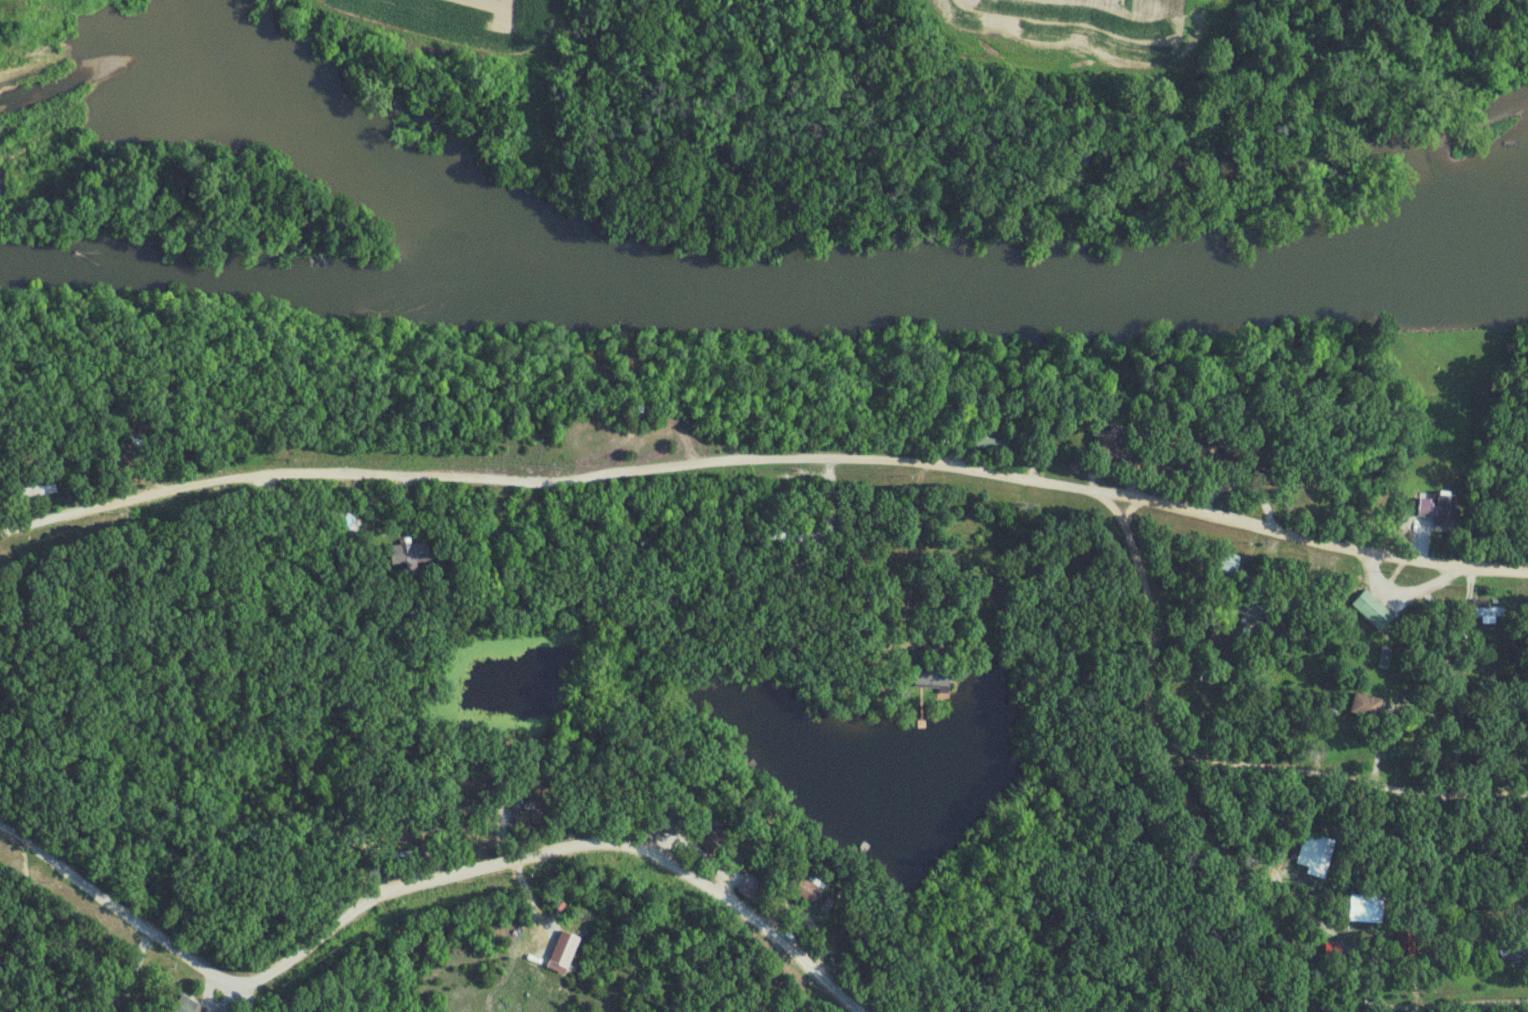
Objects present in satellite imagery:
river: (763, 296)
building: (992, 445)
building: (1106, 449)
road: (1455, 455)
road: (765, 459)
building: (37, 491)
building: (410, 554)
road: (1138, 562)
building: (1226, 566)
building: (1307, 599)
building: (1255, 602)
building: (1486, 610)
building: (931, 677)
road: (1150, 683)
building: (1365, 705)
road: (1339, 777)
building: (524, 817)
building: (1316, 854)
road: (421, 884)
building: (807, 886)
building: (1366, 909)
building: (1407, 945)
building: (1514, 945)
road: (1293, 949)
building: (187, 1006)

